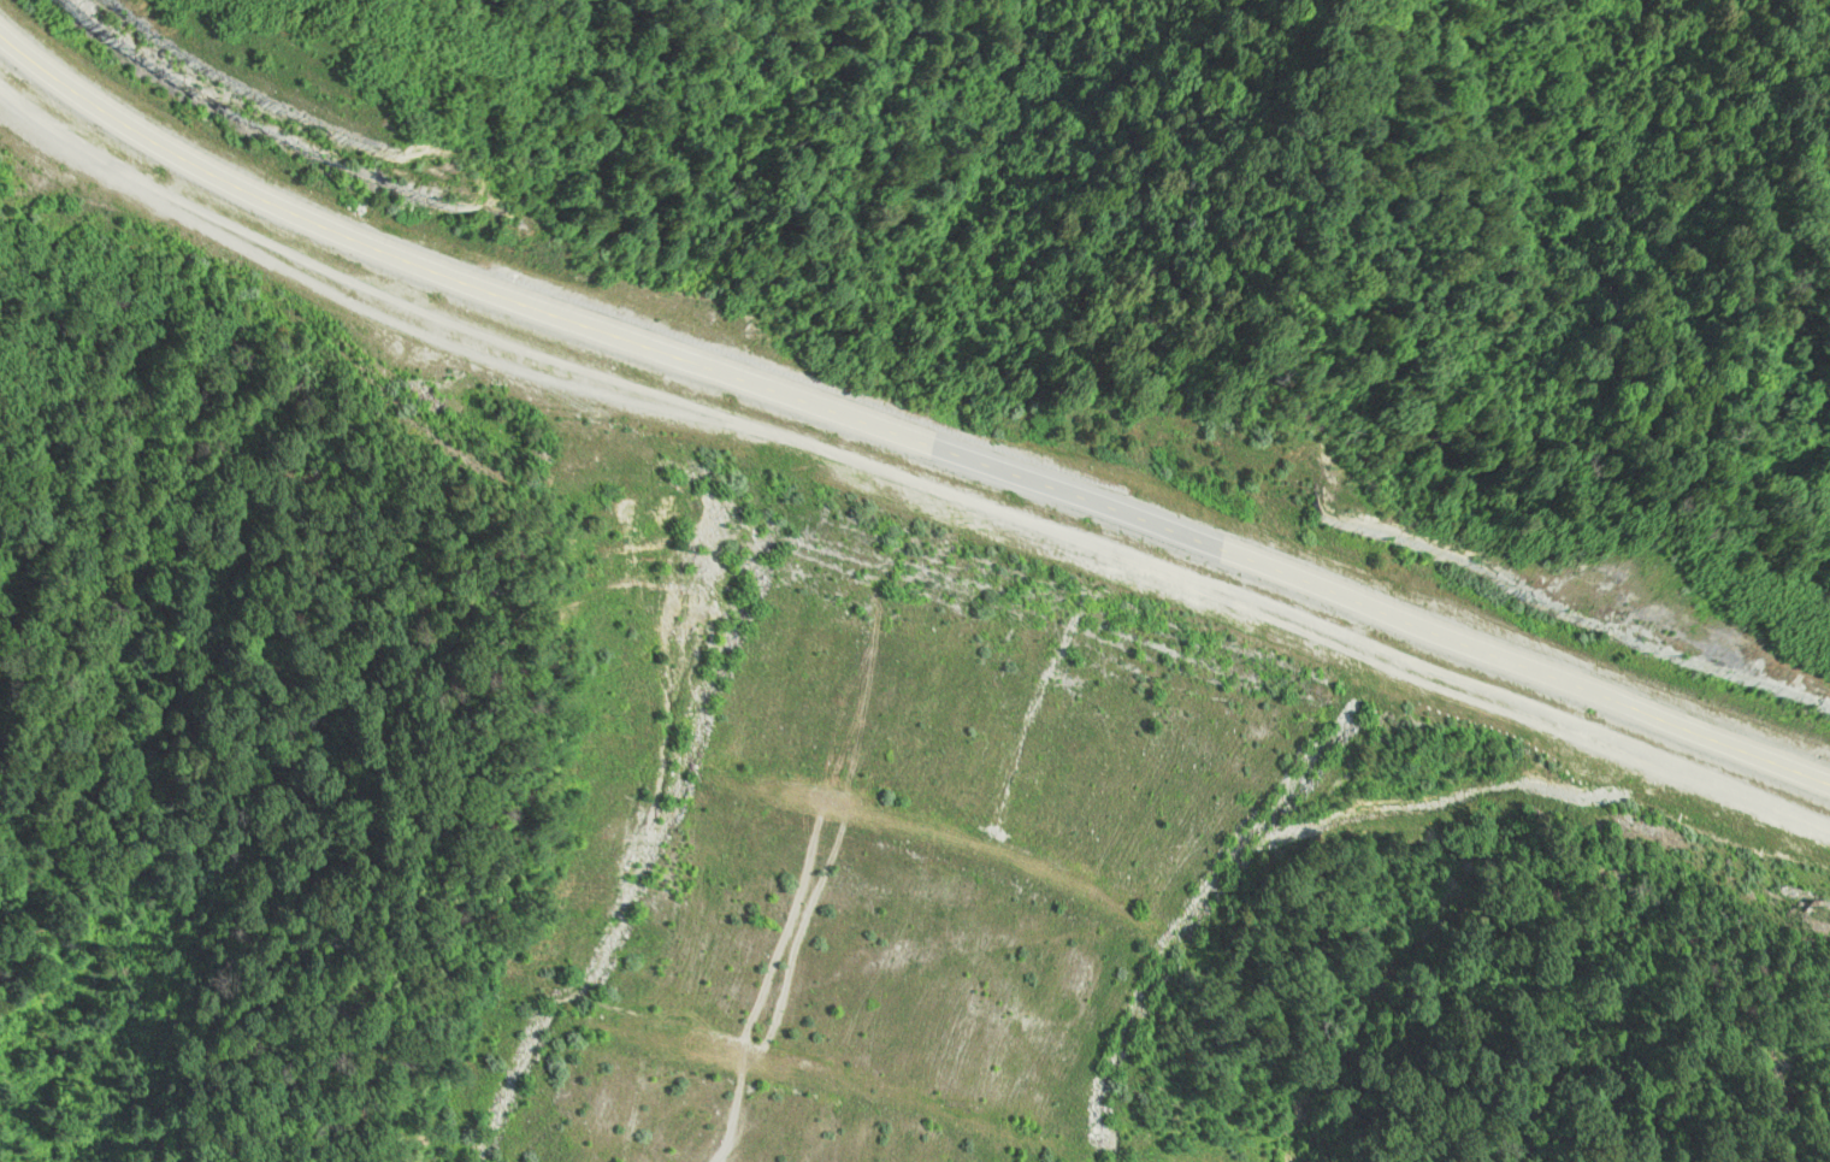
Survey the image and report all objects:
road: (895, 432)

